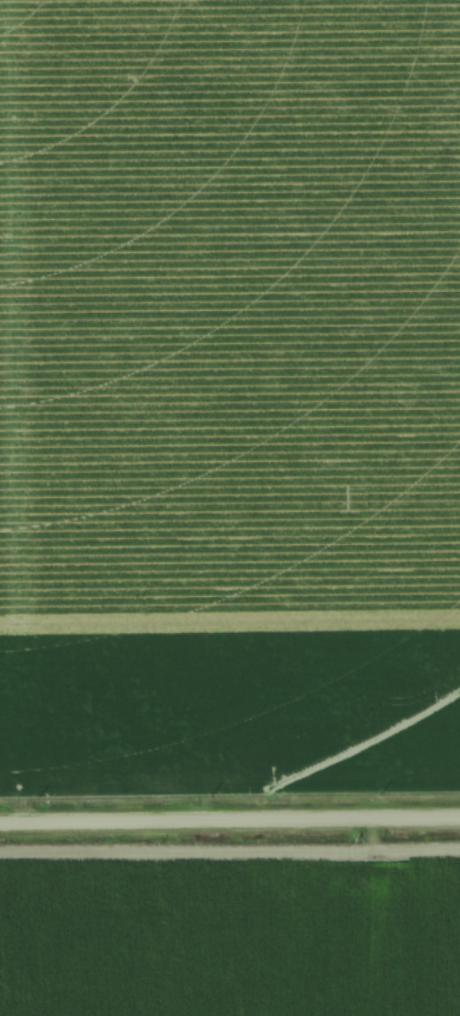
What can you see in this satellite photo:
road: (230, 822)

